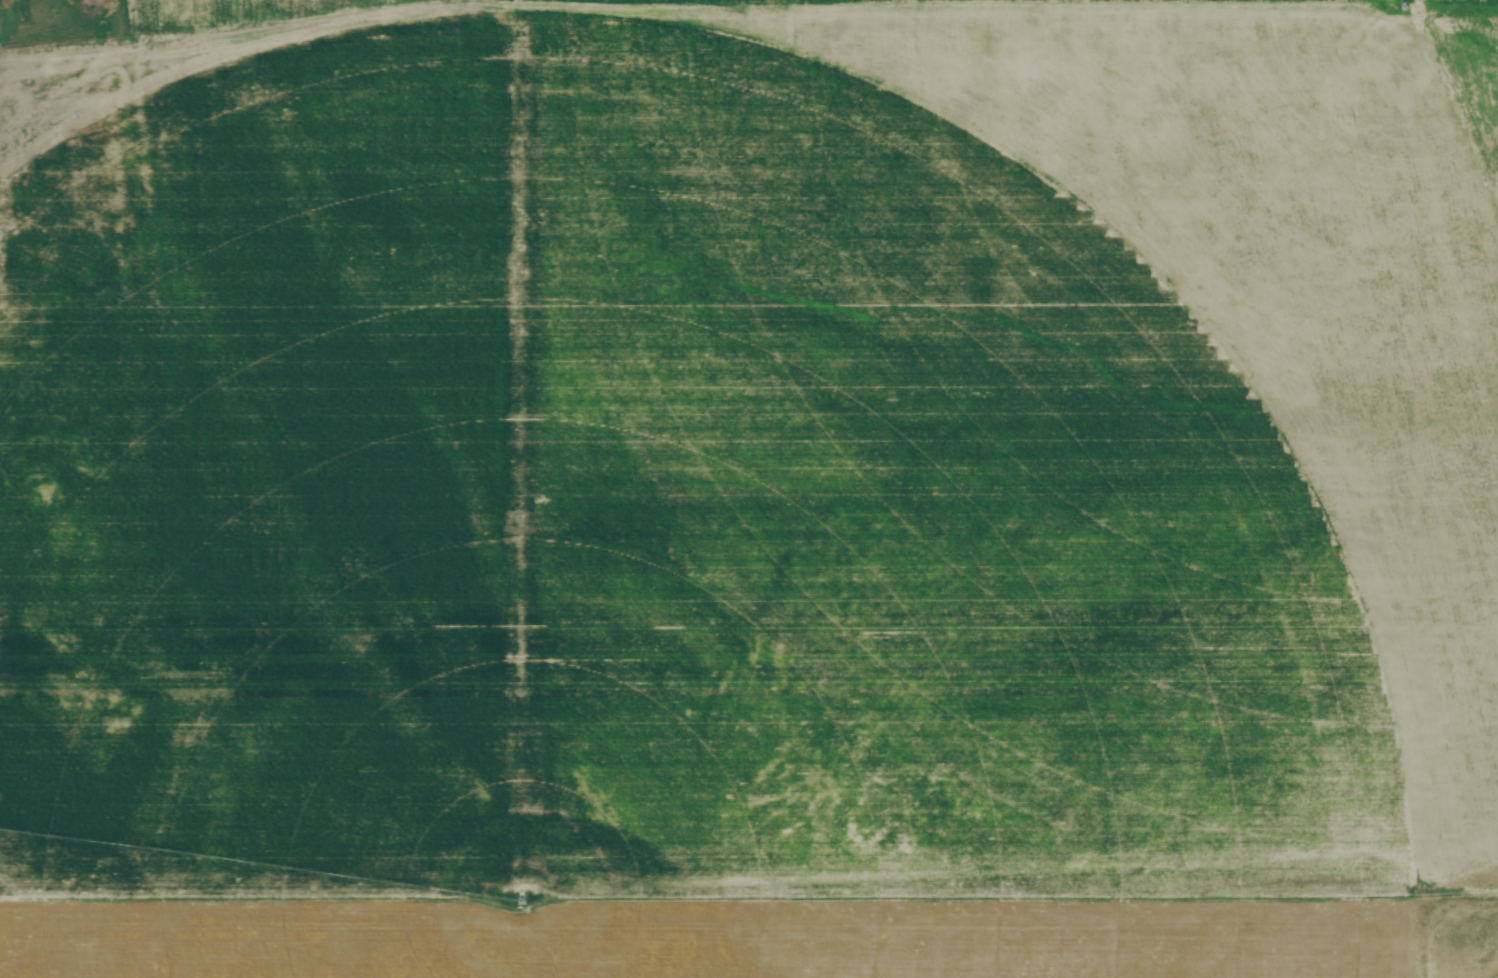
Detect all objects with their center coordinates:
road: (1437, 911)

